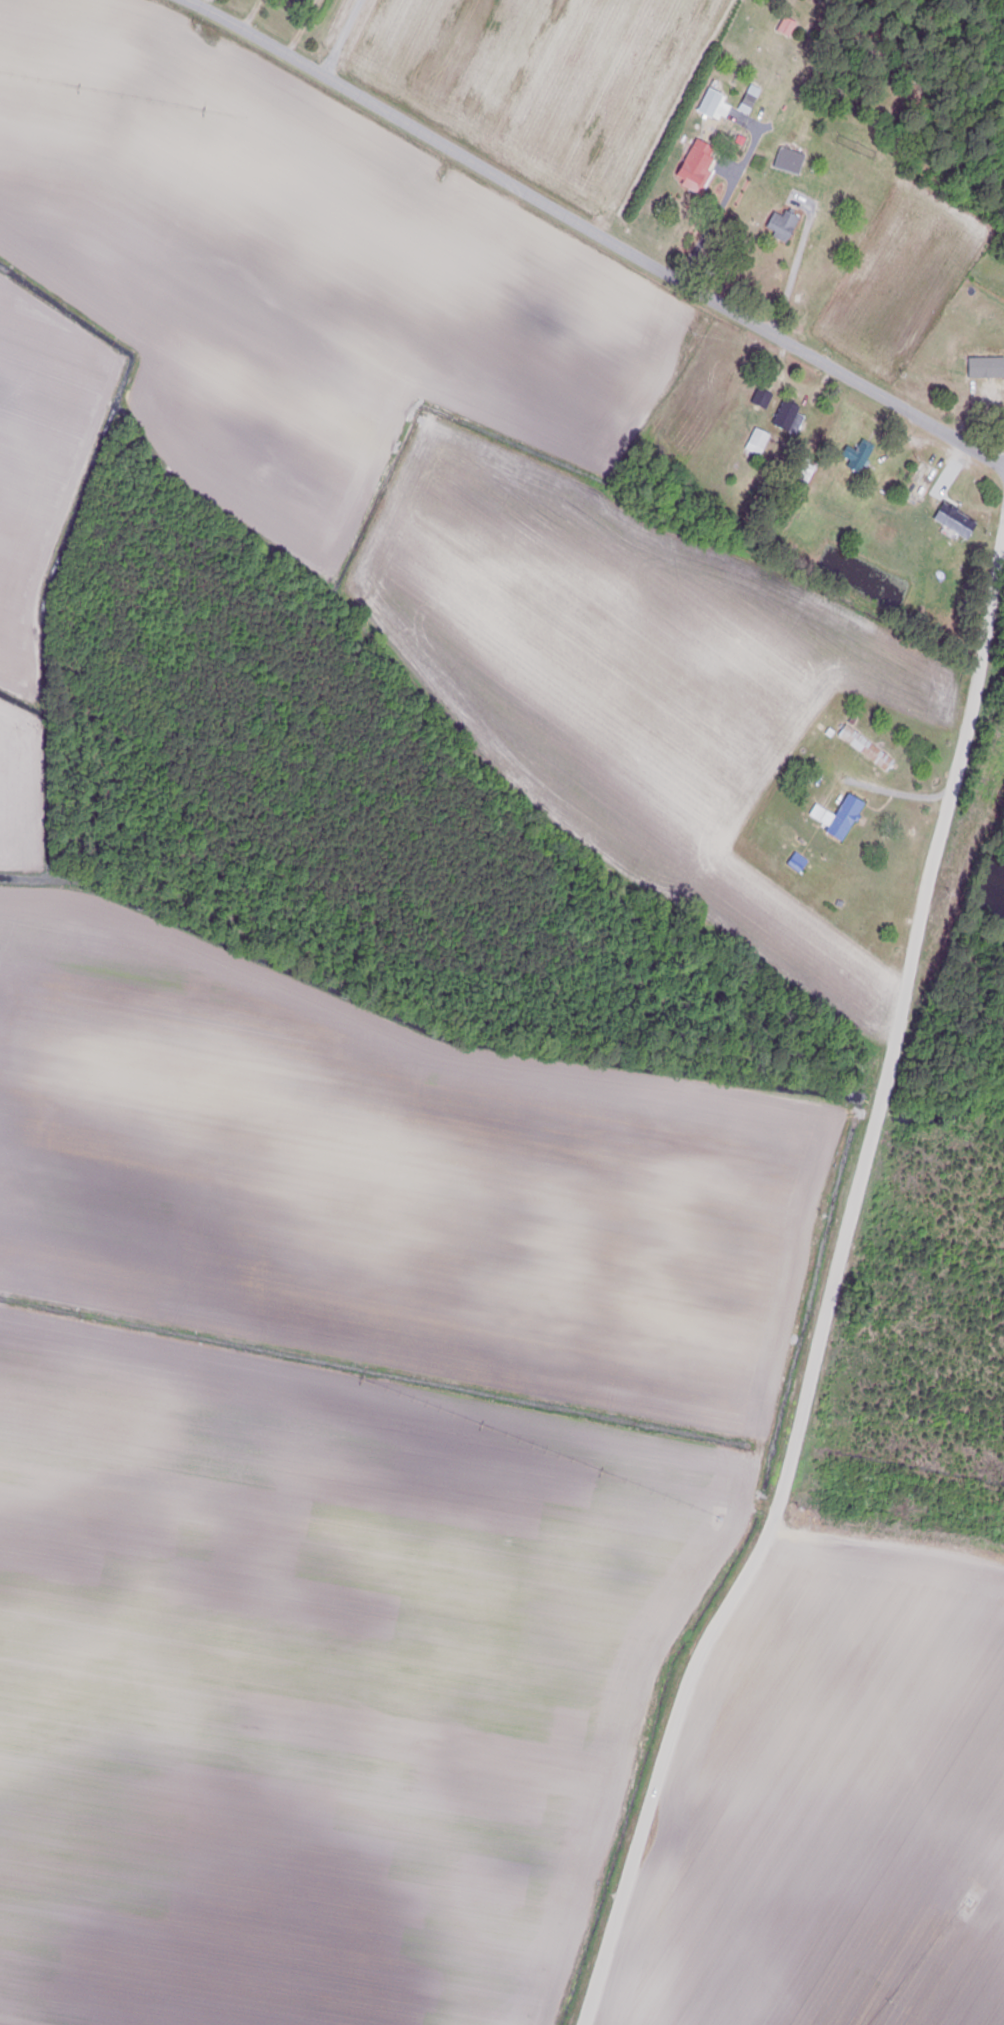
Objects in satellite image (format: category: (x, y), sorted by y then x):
building: (748, 100)
building: (709, 104)
building: (788, 160)
building: (696, 165)
road: (727, 191)
building: (781, 225)
road: (591, 232)
road: (793, 268)
building: (985, 367)
building: (760, 398)
building: (787, 417)
building: (756, 442)
building: (855, 456)
building: (801, 478)
building: (954, 521)
building: (864, 748)
road: (902, 794)
building: (837, 817)
road: (835, 1277)

